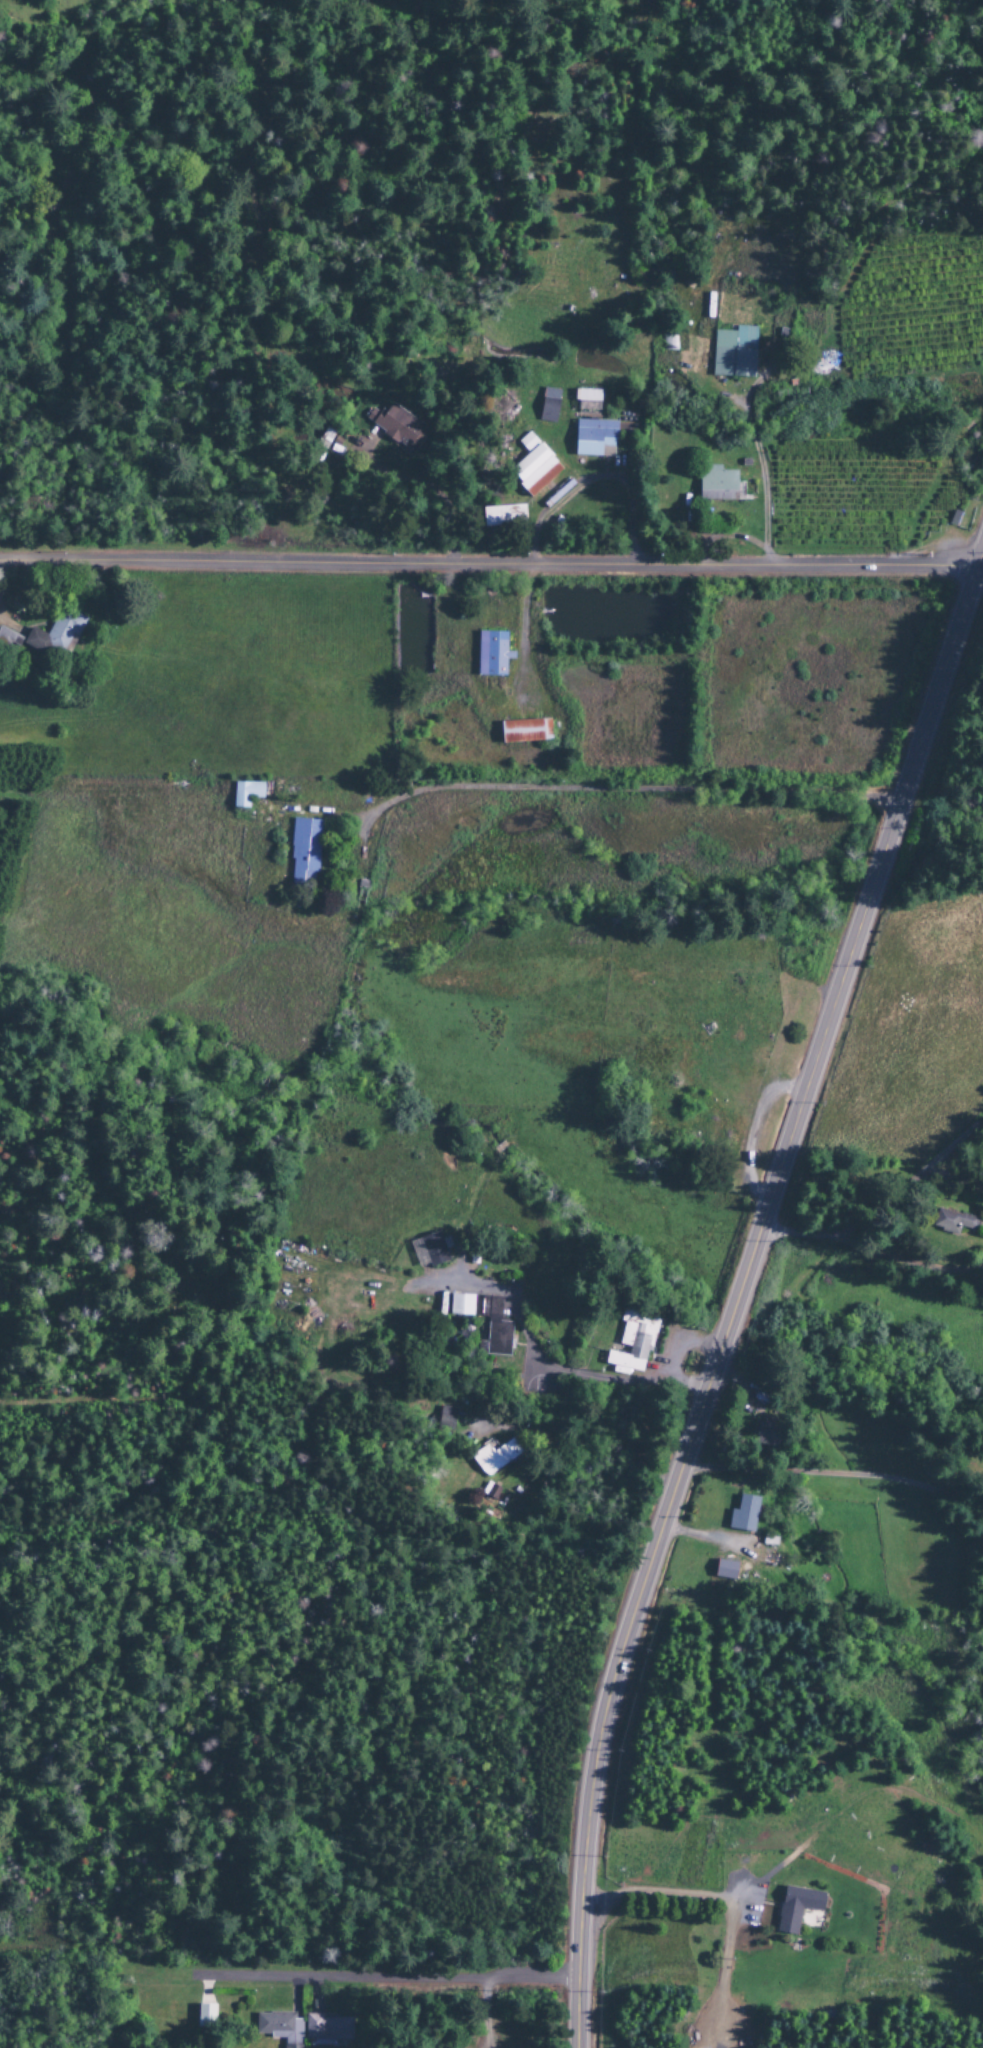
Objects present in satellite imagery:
building: (733, 353)
building: (587, 399)
building: (548, 406)
building: (396, 427)
building: (593, 439)
building: (532, 468)
building: (716, 485)
building: (501, 517)
road: (489, 565)
road: (981, 568)
building: (44, 638)
building: (491, 655)
building: (524, 731)
road: (612, 786)
building: (245, 794)
building: (303, 852)
road: (880, 1207)
building: (951, 1222)
building: (428, 1250)
road: (915, 1255)
road: (741, 1294)
building: (497, 1338)
building: (632, 1342)
road: (549, 1370)
building: (445, 1419)
building: (766, 1436)
building: (494, 1457)
road: (834, 1472)
building: (742, 1515)
building: (724, 1570)
road: (666, 1902)
building: (796, 1908)
road: (386, 1978)
building: (204, 2017)
building: (278, 2027)
building: (327, 2029)
building: (291, 2047)

